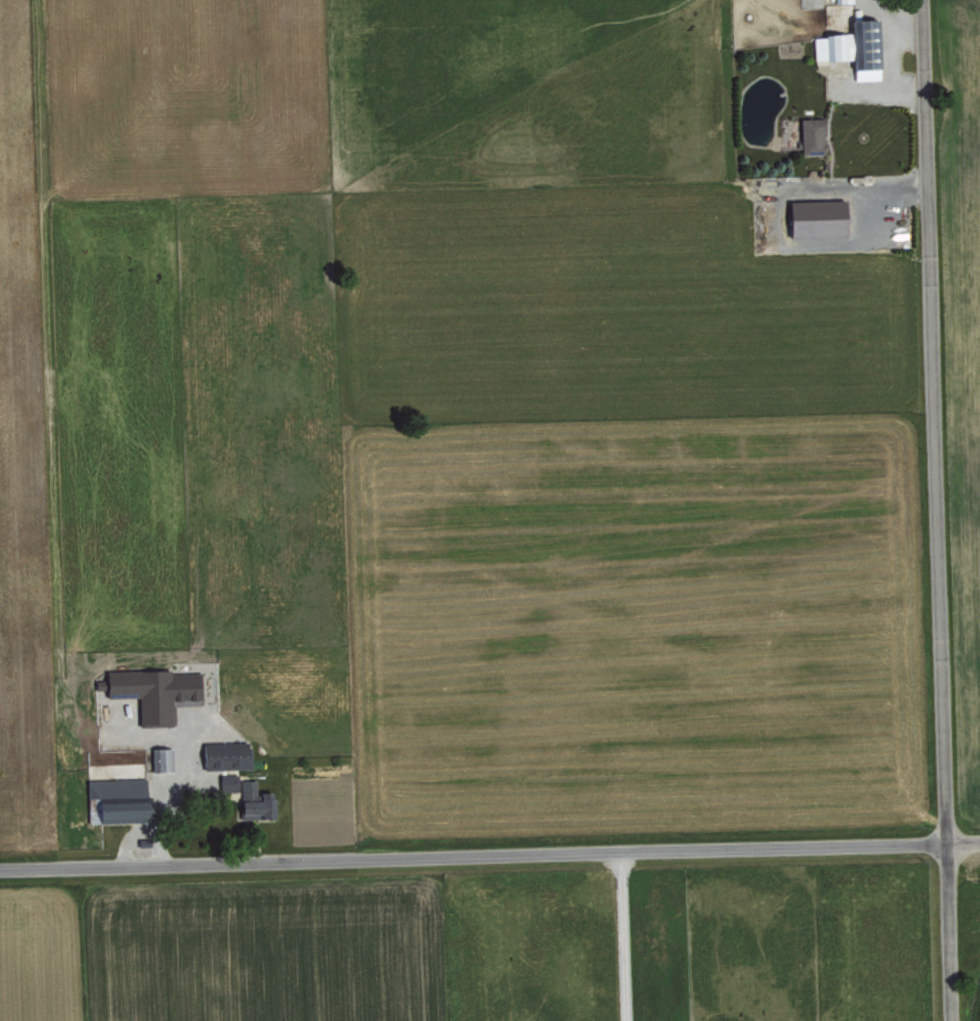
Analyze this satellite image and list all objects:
road: (888, 19)
building: (852, 47)
road: (888, 74)
building: (812, 135)
building: (817, 217)
road: (937, 510)
building: (154, 691)
building: (227, 754)
building: (161, 759)
building: (119, 799)
building: (256, 801)
road: (490, 854)
road: (612, 936)

